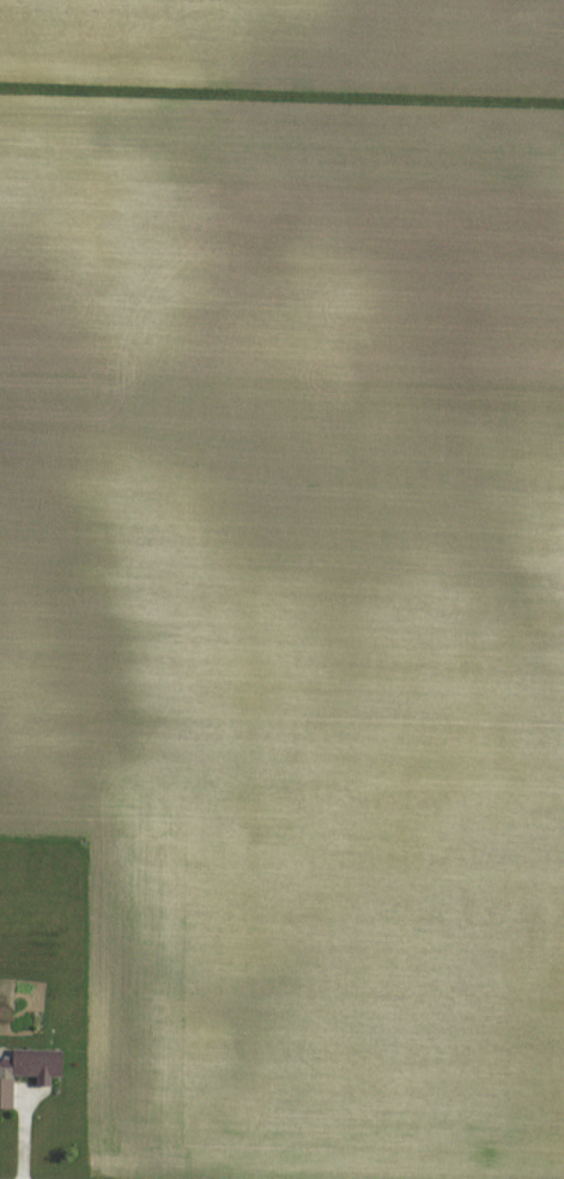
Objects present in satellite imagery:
building: (31, 1065)
building: (5, 1094)

